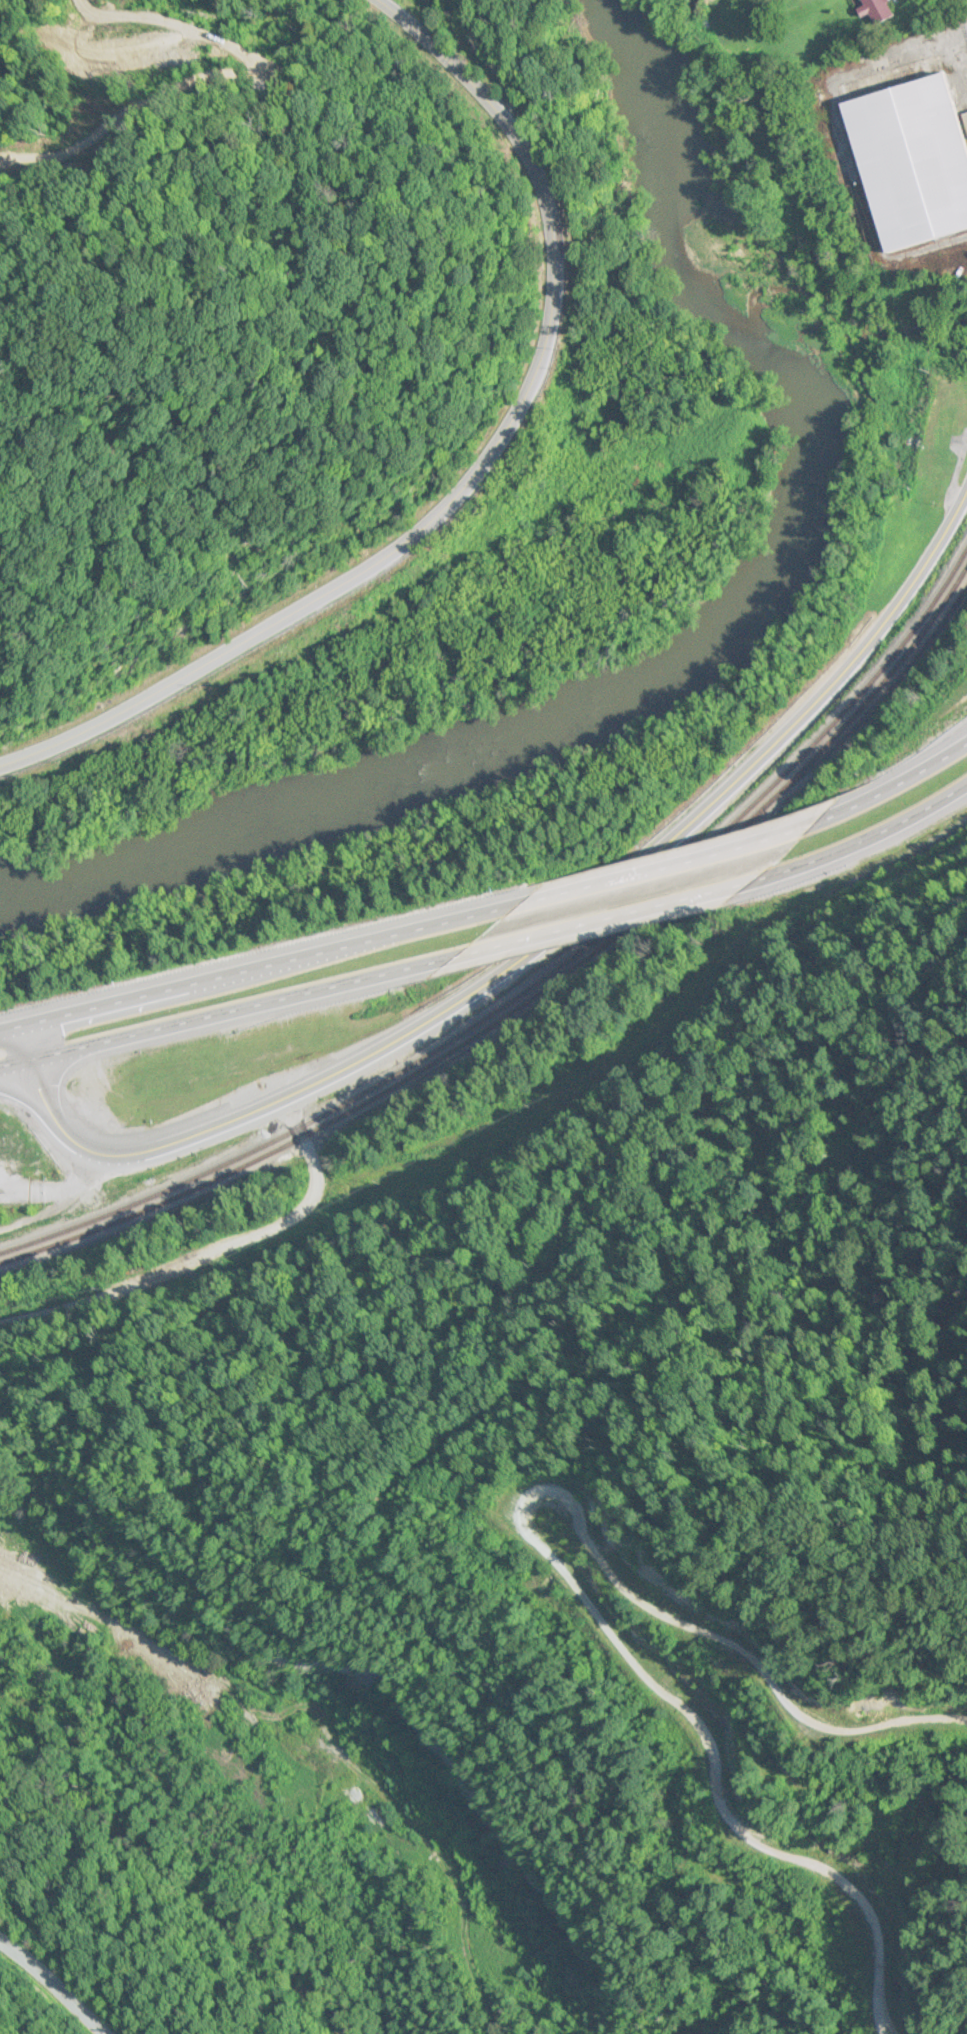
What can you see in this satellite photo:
building: (869, 11)
building: (904, 163)
building: (935, 422)
road: (477, 476)
river: (701, 643)
railway: (881, 696)
road: (882, 791)
road: (874, 838)
road: (652, 870)
road: (622, 916)
road: (553, 941)
road: (269, 973)
railway: (540, 978)
railway: (538, 989)
road: (254, 1015)
road: (13, 1042)
road: (32, 1056)
road: (18, 1077)
road: (50, 1189)
road: (211, 1255)
road: (445, 1410)
road: (99, 1616)
road: (274, 1732)
road: (53, 1973)

